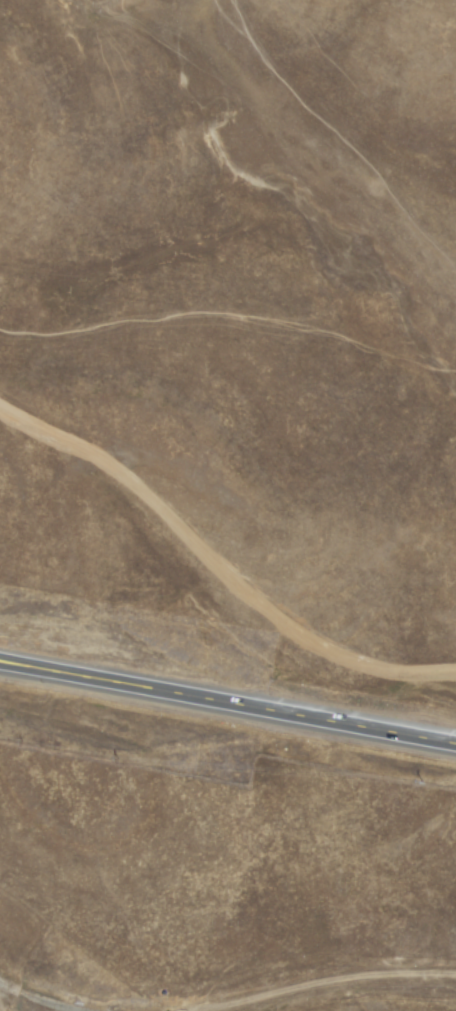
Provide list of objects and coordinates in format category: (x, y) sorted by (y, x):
road: (228, 715)

